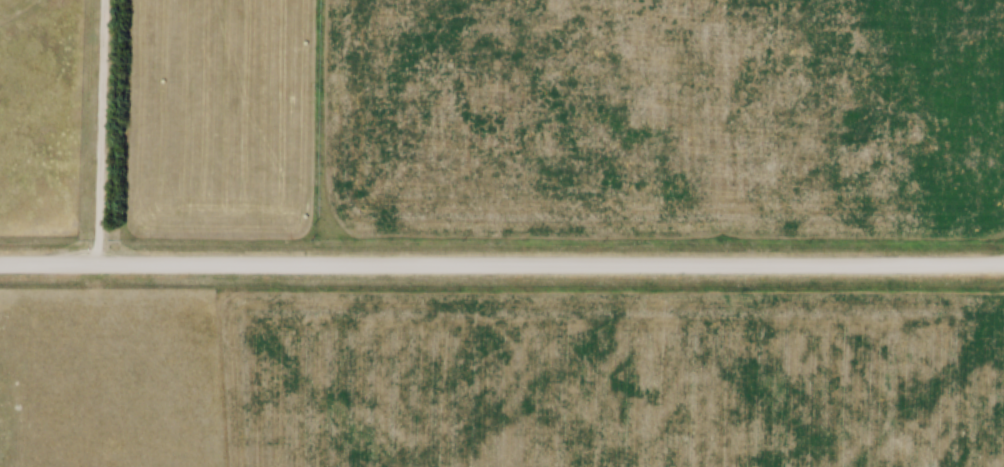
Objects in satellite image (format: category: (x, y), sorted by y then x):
road: (97, 131)
road: (501, 264)

